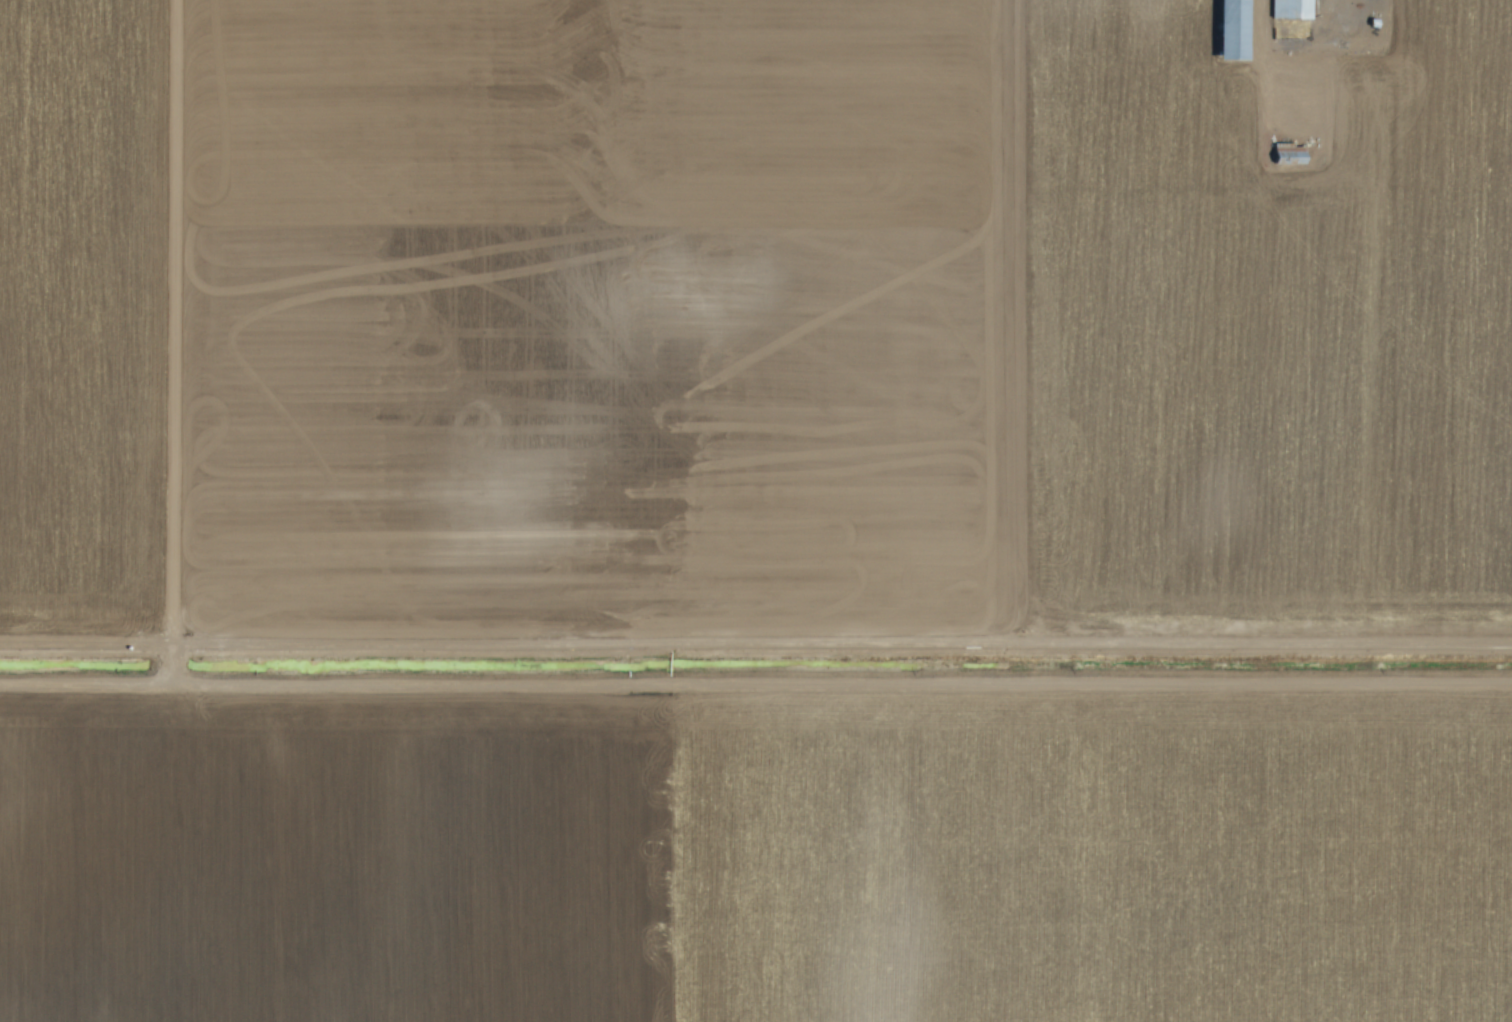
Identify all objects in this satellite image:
building: (1227, 30)
building: (1287, 156)

